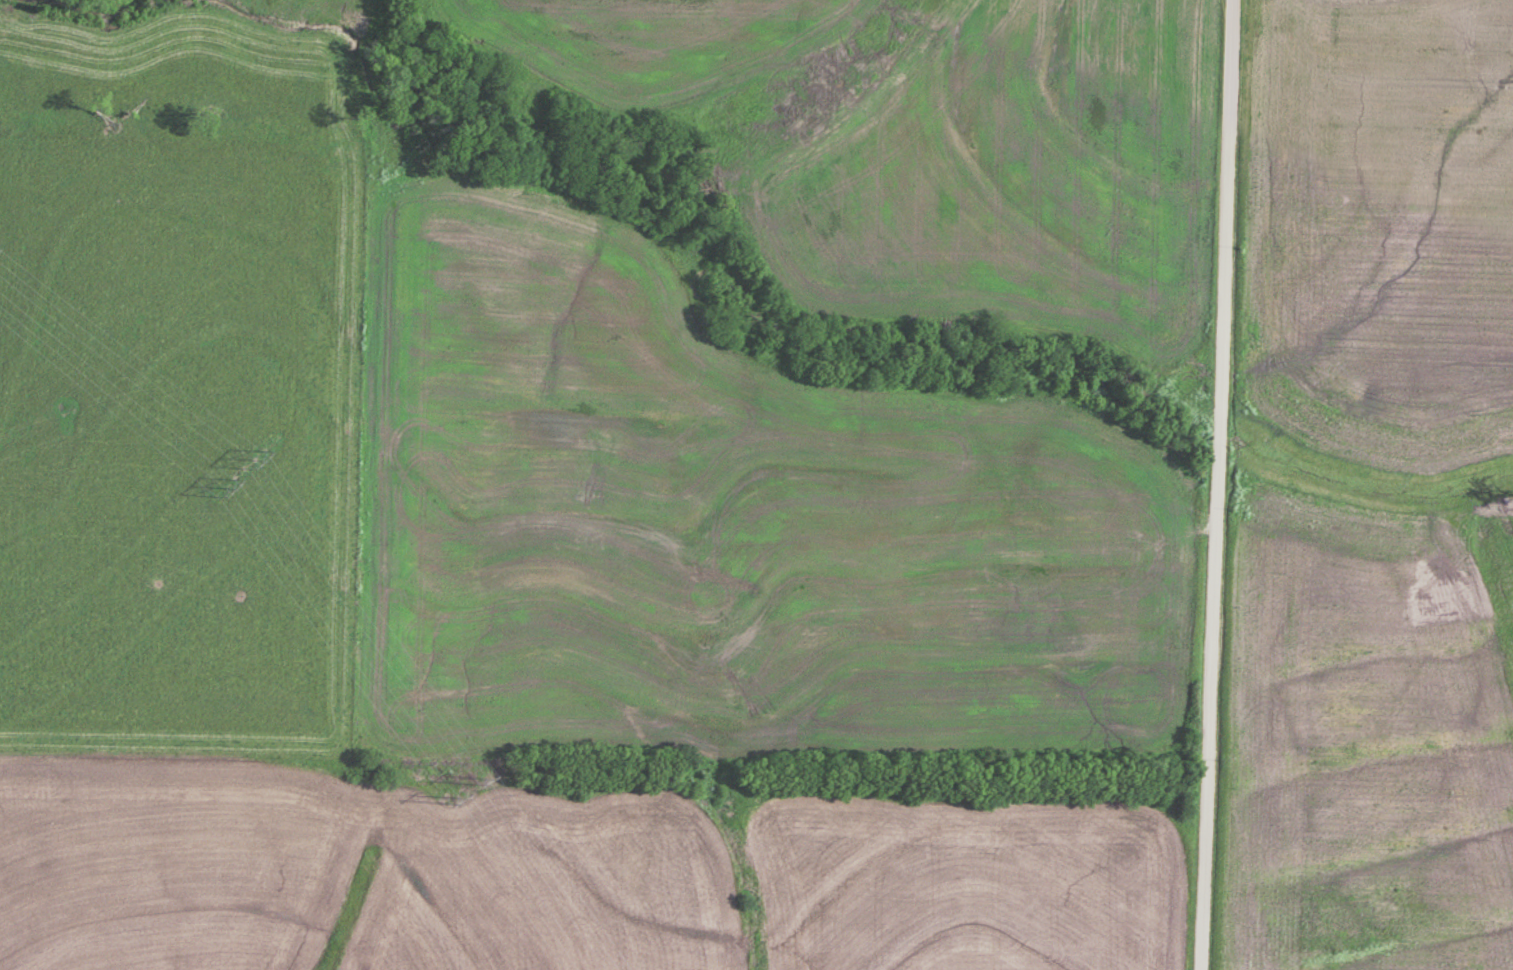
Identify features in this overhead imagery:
power tower: (257, 452)
road: (1218, 485)
power tower: (225, 489)
power tower: (479, 778)
power tower: (445, 795)

